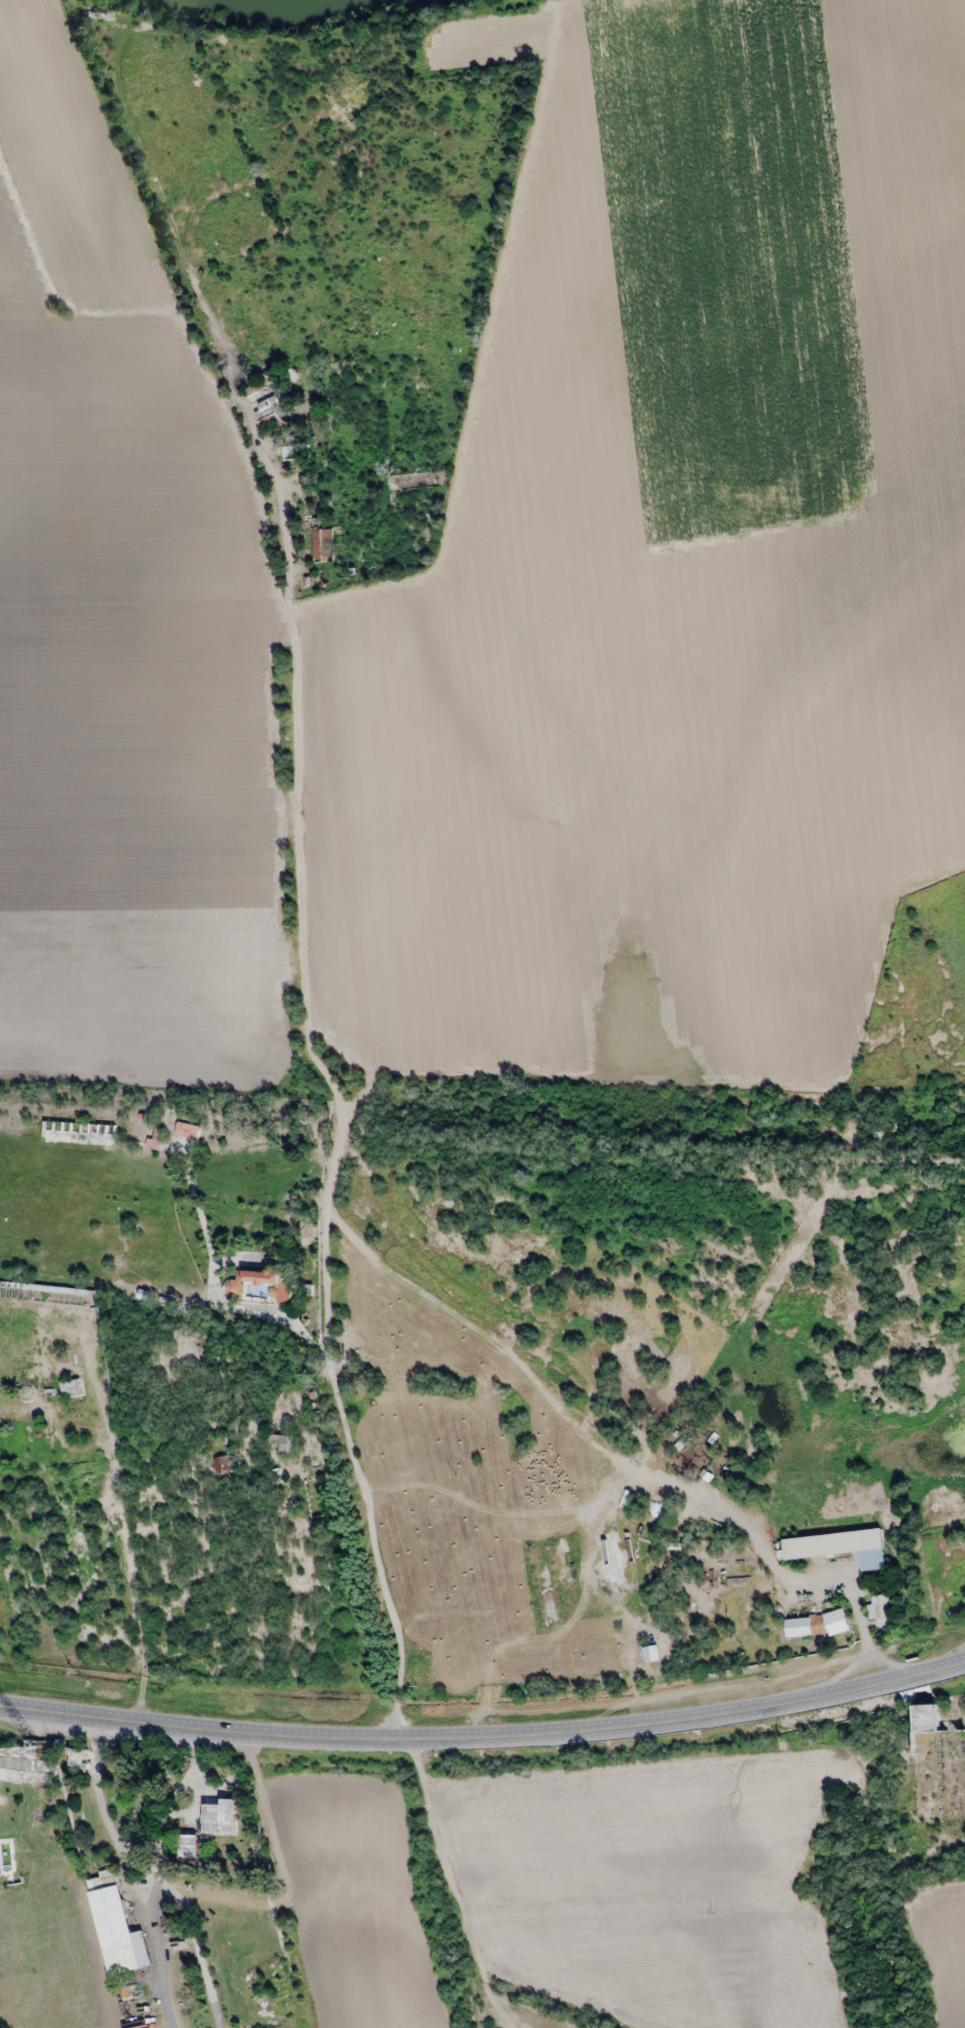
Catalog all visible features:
building: (323, 544)
road: (302, 810)
road: (485, 1732)

